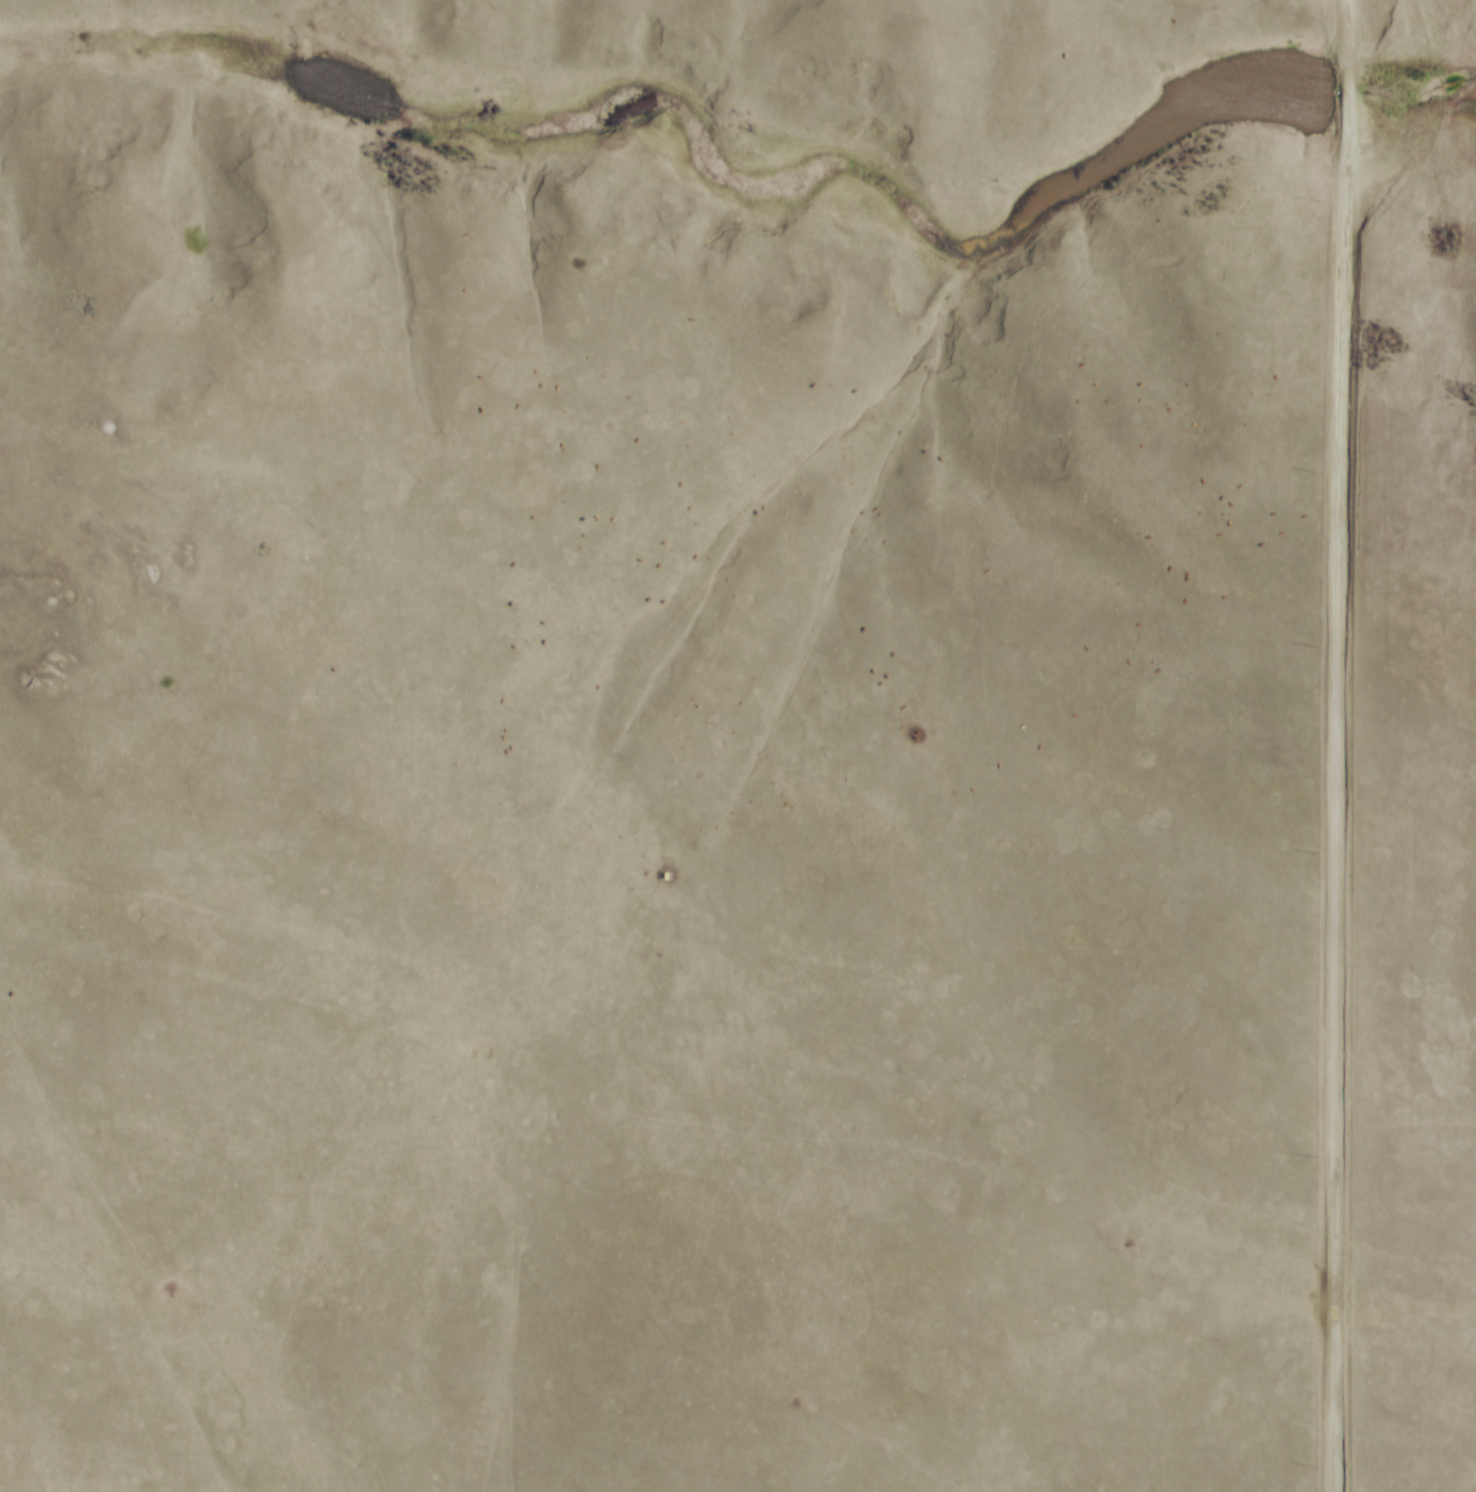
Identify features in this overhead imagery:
road: (1340, 745)

